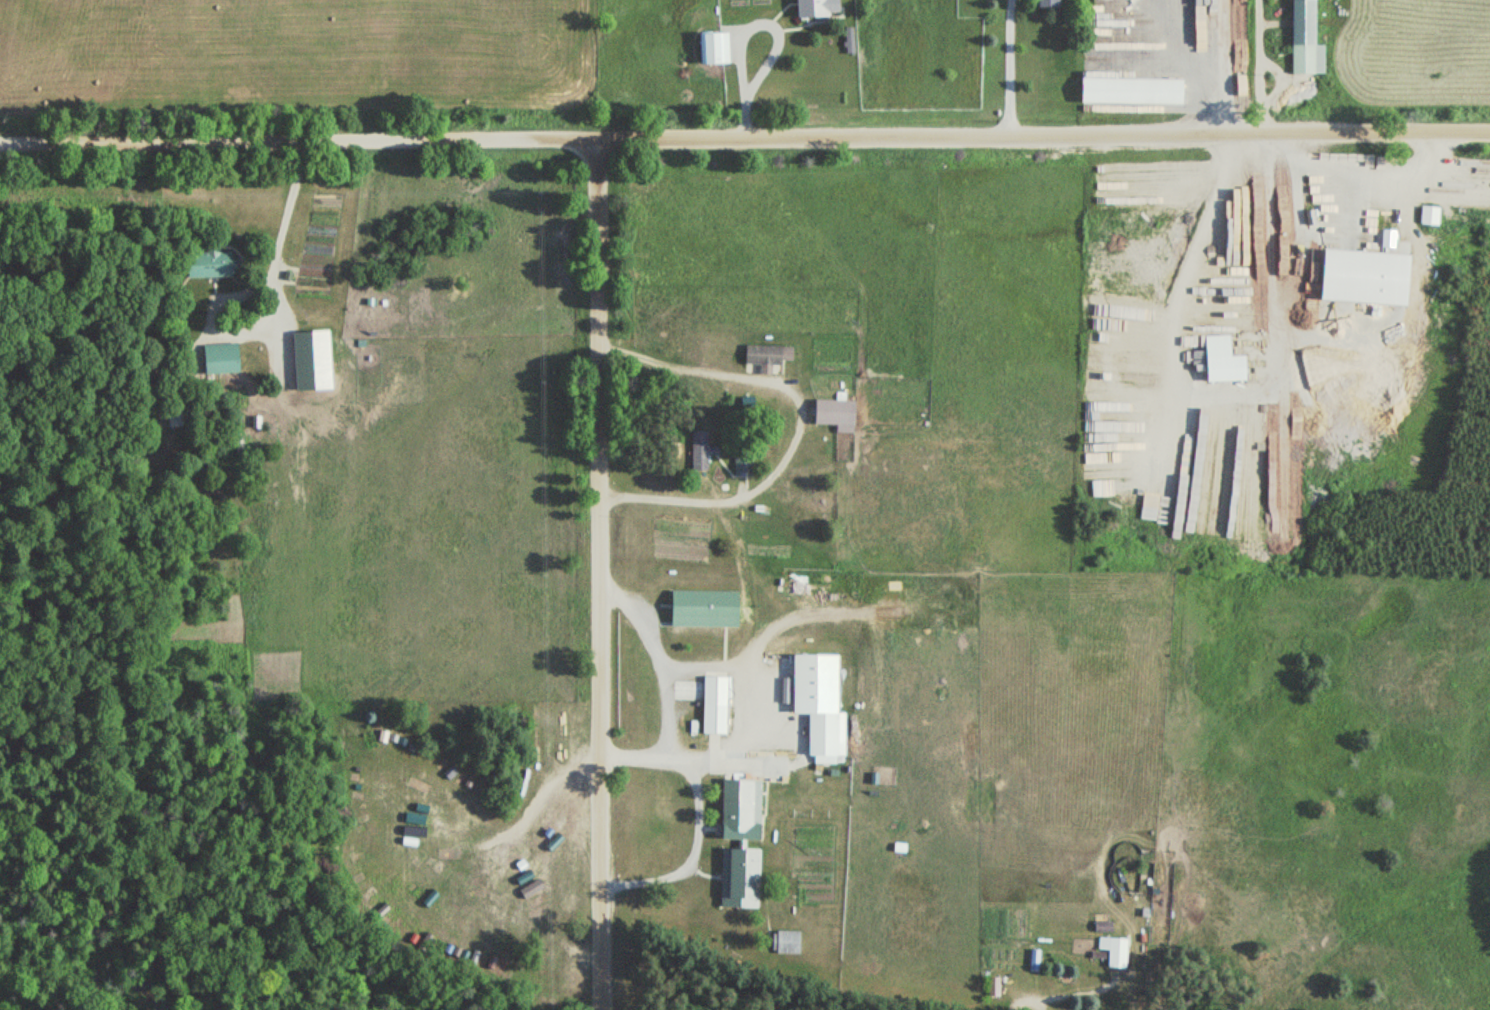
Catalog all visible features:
building: (1044, 3)
building: (815, 7)
building: (847, 40)
building: (1303, 41)
building: (712, 47)
building: (1128, 91)
road: (1033, 151)
road: (288, 154)
building: (1427, 214)
building: (208, 262)
building: (1347, 268)
building: (764, 357)
building: (220, 358)
building: (1219, 360)
building: (833, 412)
building: (698, 452)
building: (743, 466)
road: (589, 582)
building: (702, 608)
building: (712, 705)
building: (824, 737)
building: (747, 788)
building: (778, 900)
building: (785, 942)
building: (1115, 953)

